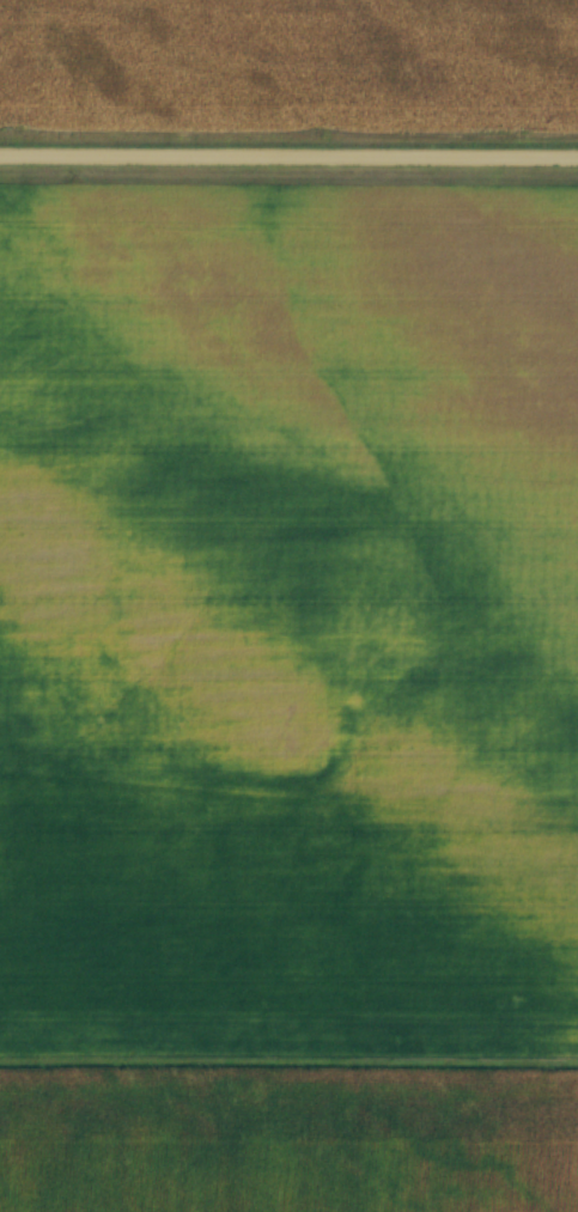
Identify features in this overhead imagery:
road: (288, 159)

